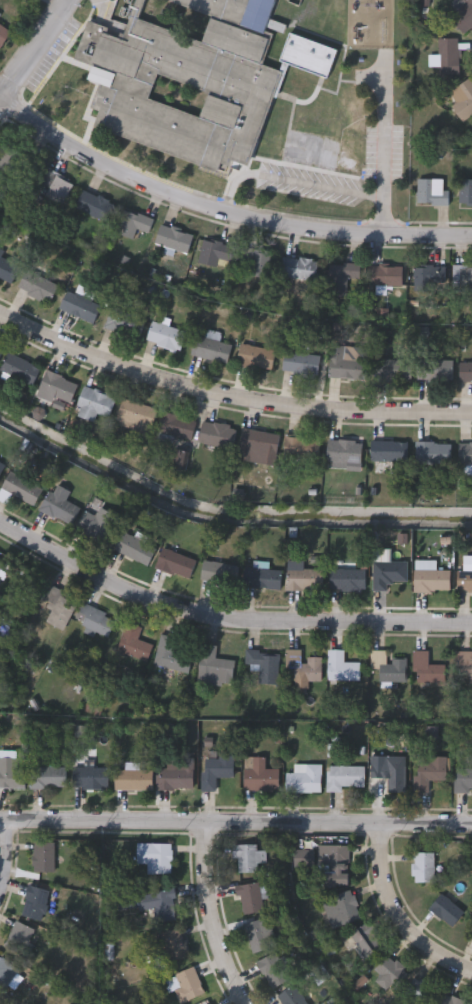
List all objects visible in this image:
building: (318, 13)
building: (463, 17)
building: (4, 36)
road: (37, 49)
building: (308, 54)
building: (448, 58)
building: (186, 81)
building: (464, 101)
building: (357, 117)
building: (315, 123)
road: (386, 128)
building: (290, 156)
building: (340, 165)
road: (317, 186)
building: (56, 190)
building: (433, 193)
building: (466, 194)
building: (95, 206)
road: (222, 215)
building: (134, 225)
building: (174, 240)
building: (216, 253)
building: (257, 263)
building: (300, 269)
building: (8, 271)
building: (386, 276)
building: (429, 278)
building: (342, 279)
building: (463, 279)
building: (38, 288)
building: (79, 306)
building: (125, 323)
building: (166, 337)
building: (0, 349)
building: (212, 349)
building: (256, 357)
building: (302, 363)
building: (346, 366)
building: (20, 369)
building: (394, 370)
building: (436, 370)
building: (58, 388)
road: (228, 397)
building: (95, 405)
building: (138, 418)
building: (176, 428)
building: (219, 436)
building: (259, 448)
building: (302, 449)
building: (390, 452)
building: (345, 453)
building: (434, 453)
building: (466, 454)
building: (2, 467)
building: (22, 489)
building: (61, 506)
building: (100, 526)
building: (136, 550)
building: (2, 561)
building: (177, 564)
building: (220, 574)
building: (390, 574)
building: (431, 578)
building: (263, 579)
building: (349, 580)
building: (306, 581)
building: (465, 582)
building: (59, 608)
building: (0, 611)
road: (224, 619)
building: (95, 621)
building: (134, 644)
building: (171, 656)
building: (265, 666)
building: (214, 667)
building: (305, 667)
building: (342, 667)
building: (389, 668)
building: (464, 669)
building: (428, 670)
building: (218, 771)
building: (430, 772)
building: (391, 774)
building: (12, 775)
building: (261, 777)
building: (92, 778)
building: (177, 778)
building: (50, 779)
building: (306, 779)
building: (346, 779)
building: (135, 781)
building: (463, 781)
road: (235, 820)
road: (1, 838)
building: (43, 856)
building: (248, 856)
building: (156, 857)
building: (304, 858)
building: (335, 864)
building: (423, 866)
building: (250, 897)
building: (36, 901)
building: (159, 903)
building: (341, 908)
building: (446, 909)
road: (403, 912)
road: (202, 916)
building: (471, 934)
building: (257, 935)
building: (20, 936)
building: (471, 937)
building: (367, 939)
building: (174, 944)
building: (274, 969)
building: (391, 970)
building: (7, 972)
building: (185, 983)
building: (422, 991)
building: (292, 996)
building: (454, 1000)

